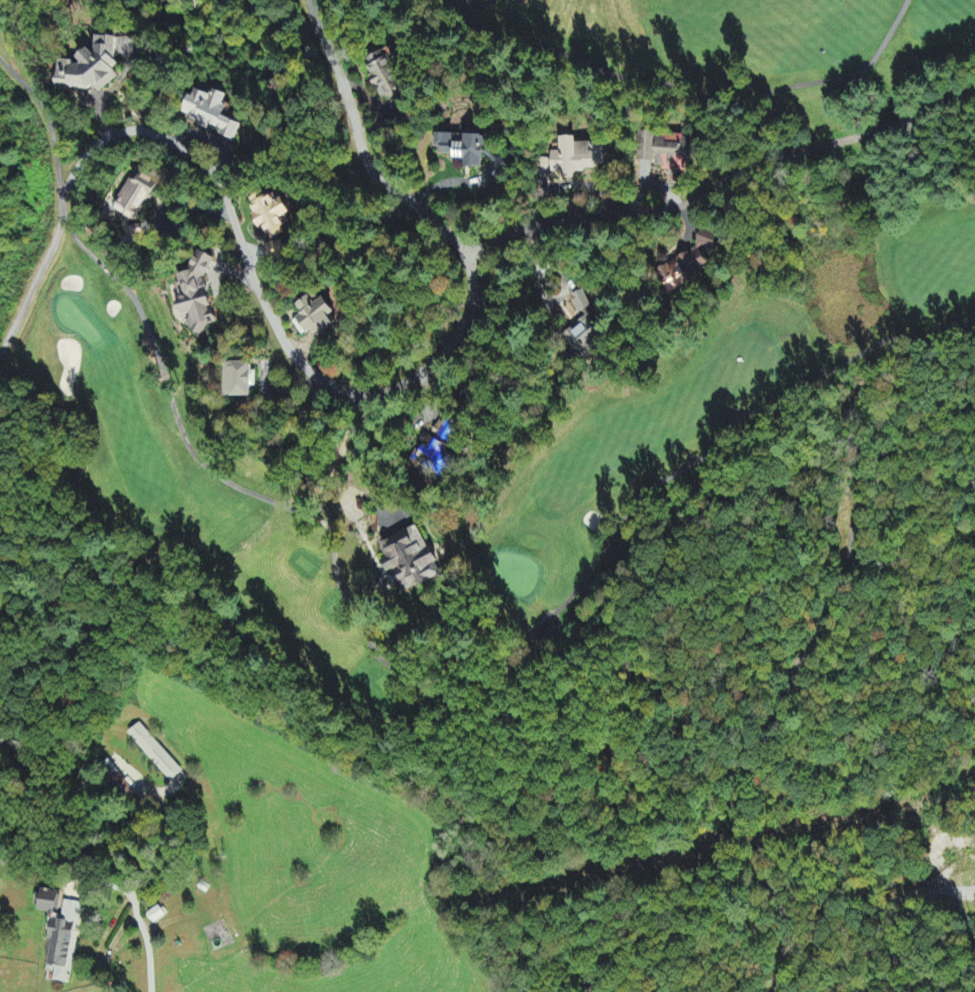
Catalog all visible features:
park: (764, 44)
building: (90, 68)
building: (384, 76)
building: (211, 113)
building: (663, 149)
building: (472, 152)
building: (575, 158)
building: (543, 167)
road: (719, 185)
building: (135, 197)
building: (270, 216)
building: (688, 264)
building: (195, 296)
building: (314, 318)
building: (584, 330)
road: (299, 362)
building: (238, 381)
park: (731, 385)
building: (446, 431)
building: (428, 457)
building: (410, 560)
road: (768, 713)
building: (154, 754)
building: (47, 902)
building: (156, 915)
building: (64, 940)
road: (138, 962)

